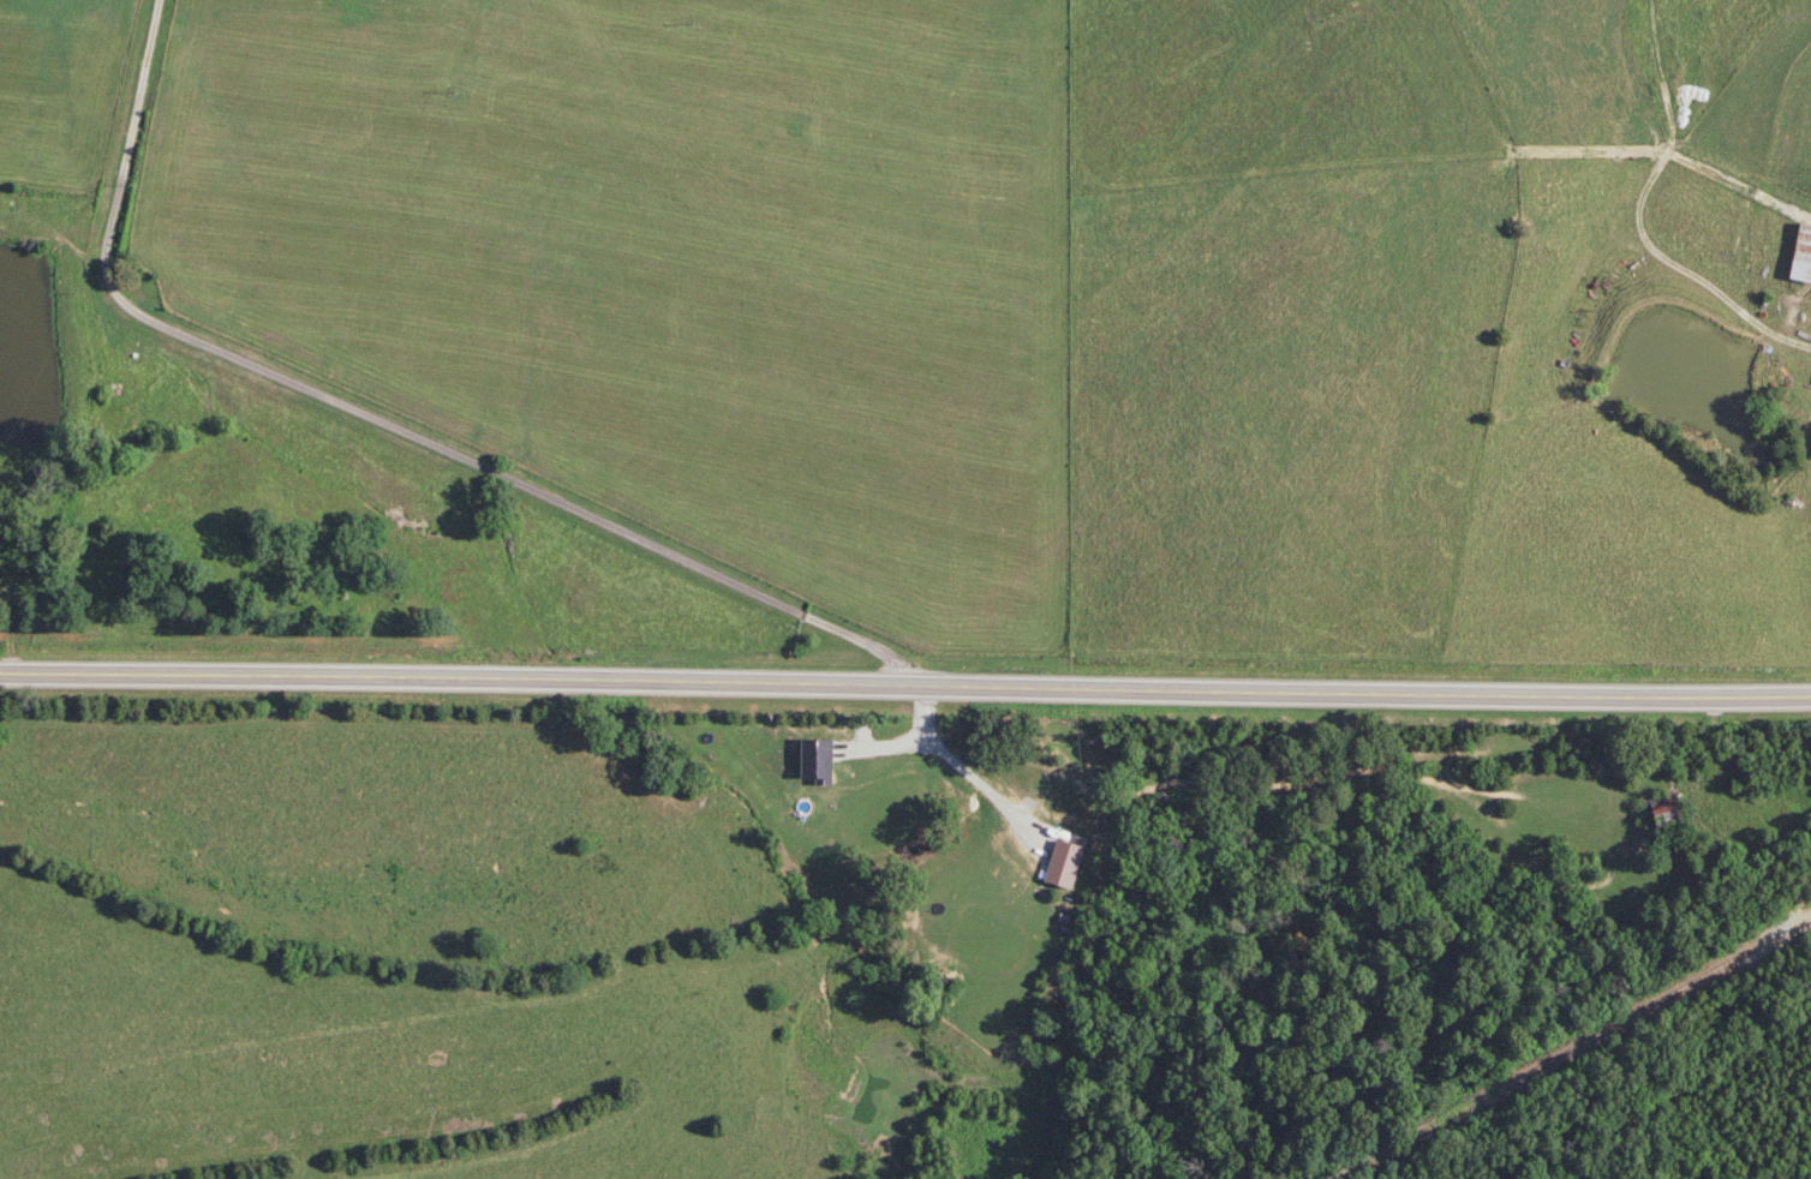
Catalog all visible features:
building: (1801, 255)
road: (378, 418)
road: (904, 692)
building: (1660, 819)
railway: (1580, 1053)

